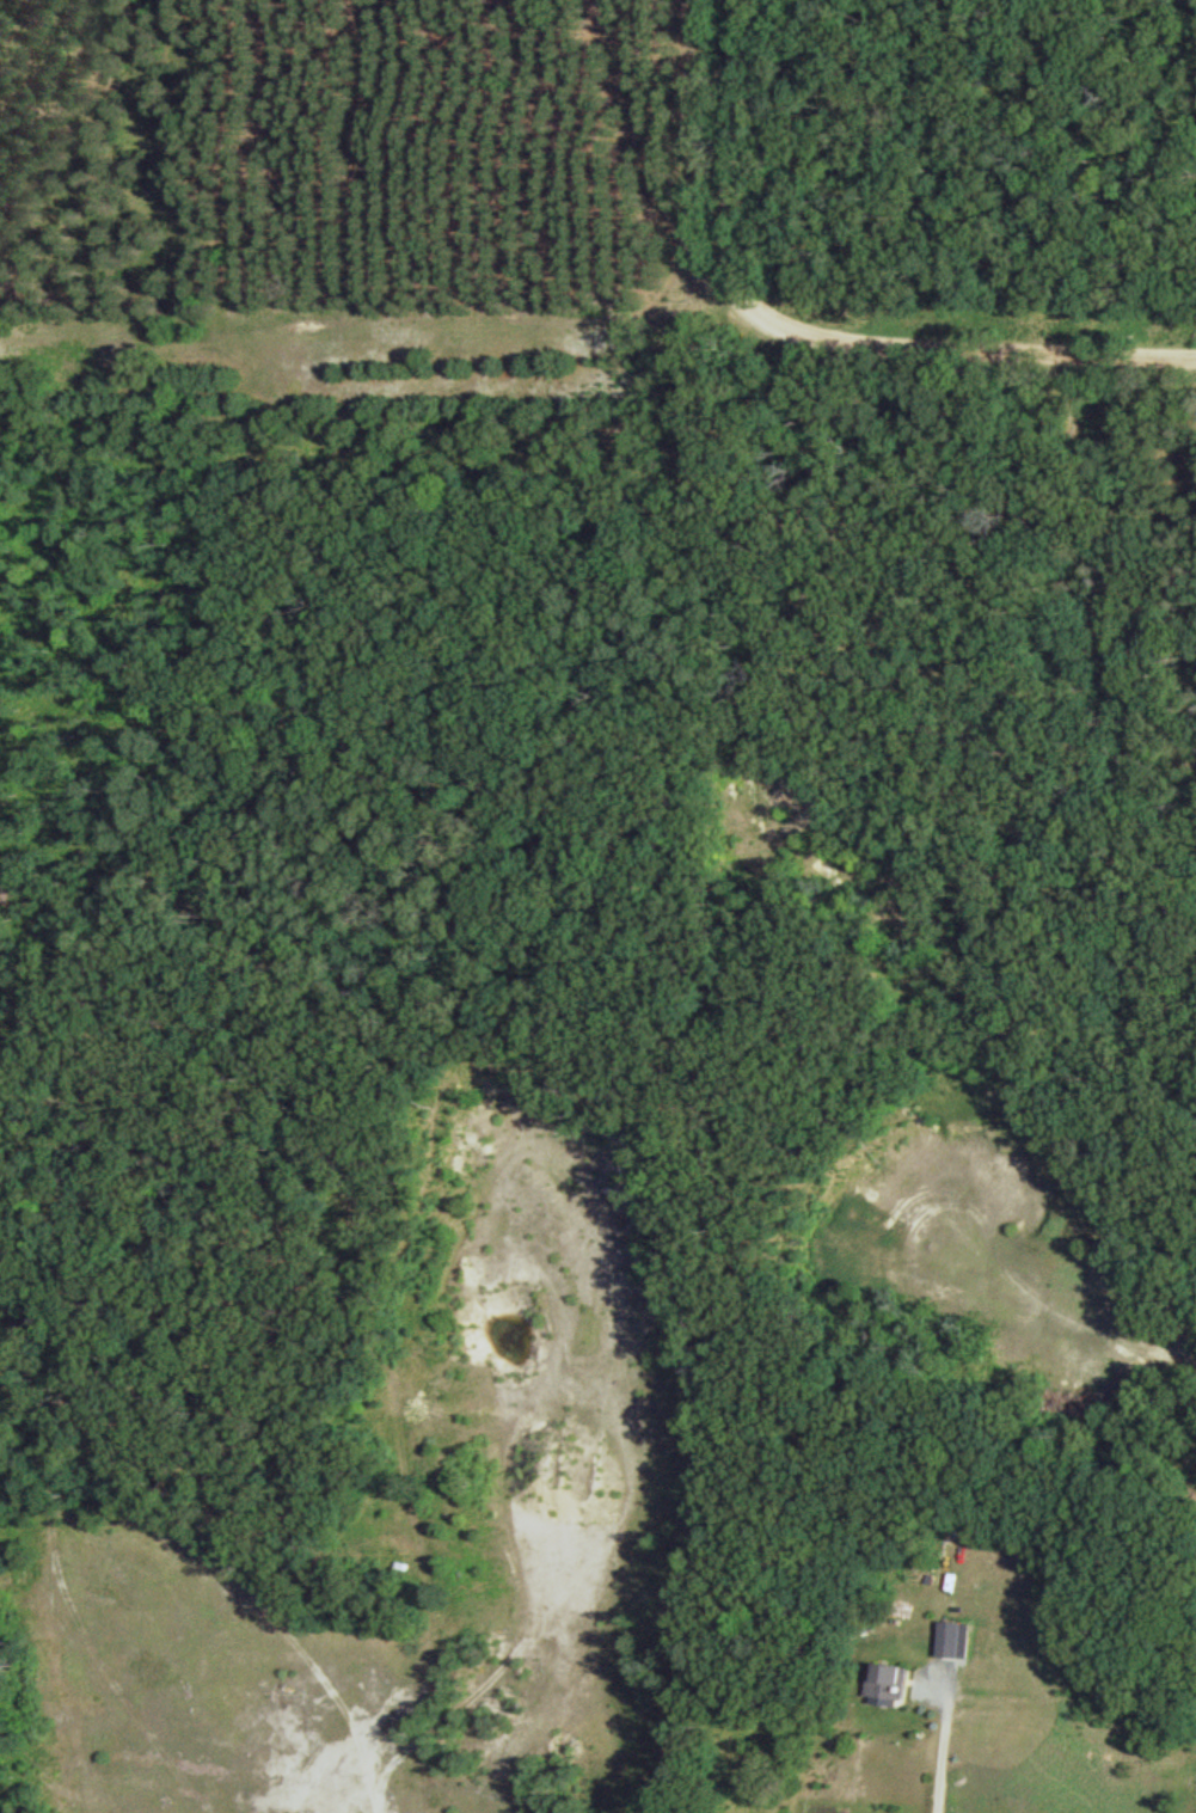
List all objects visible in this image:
road: (814, 336)
building: (953, 1637)
building: (897, 1679)

